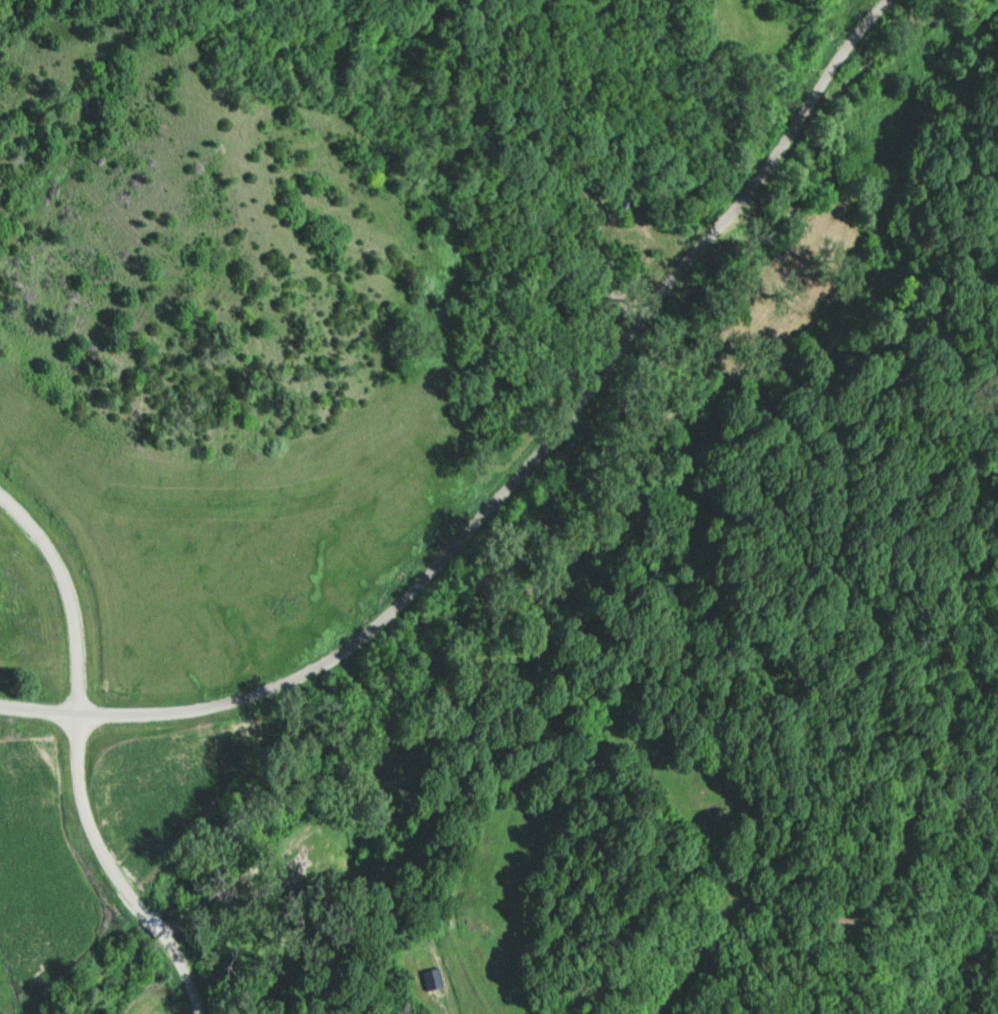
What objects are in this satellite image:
road: (516, 475)
road: (78, 760)
road: (309, 865)
building: (432, 978)

